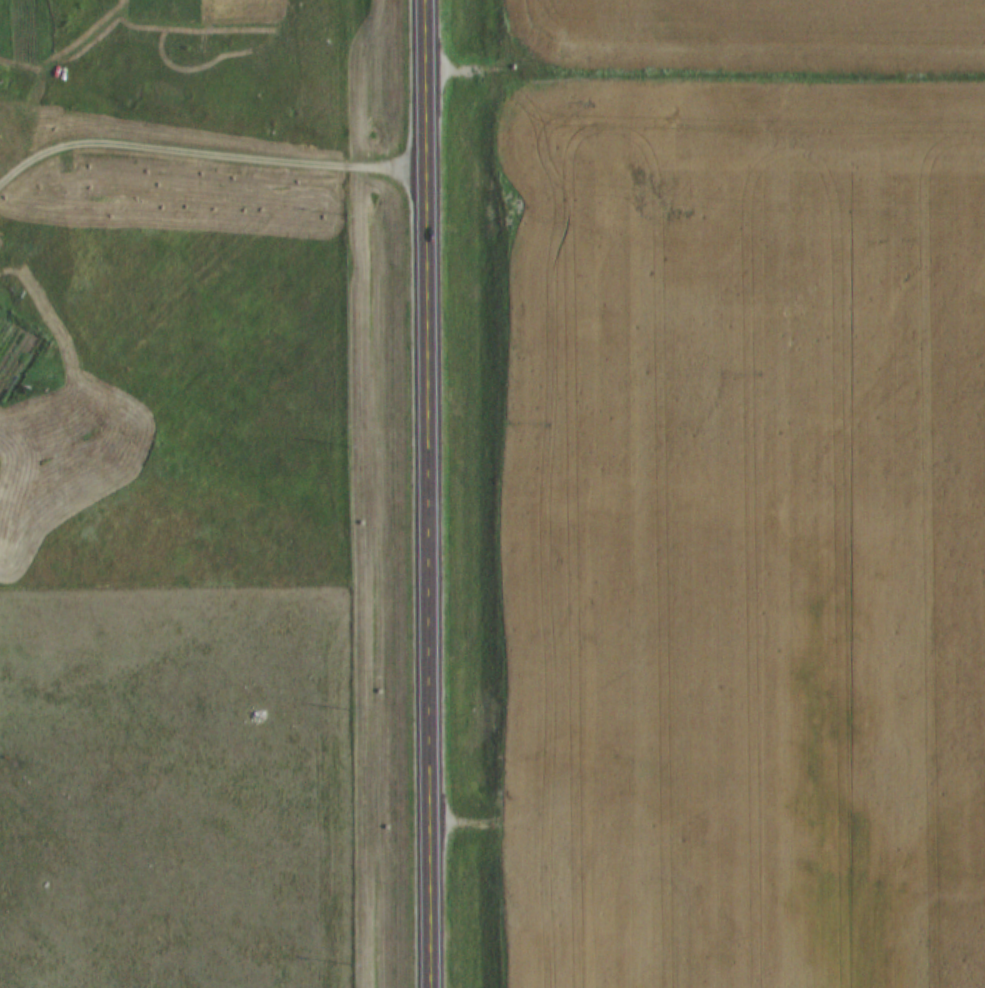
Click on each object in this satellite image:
road: (207, 160)
road: (429, 493)
road: (708, 840)

